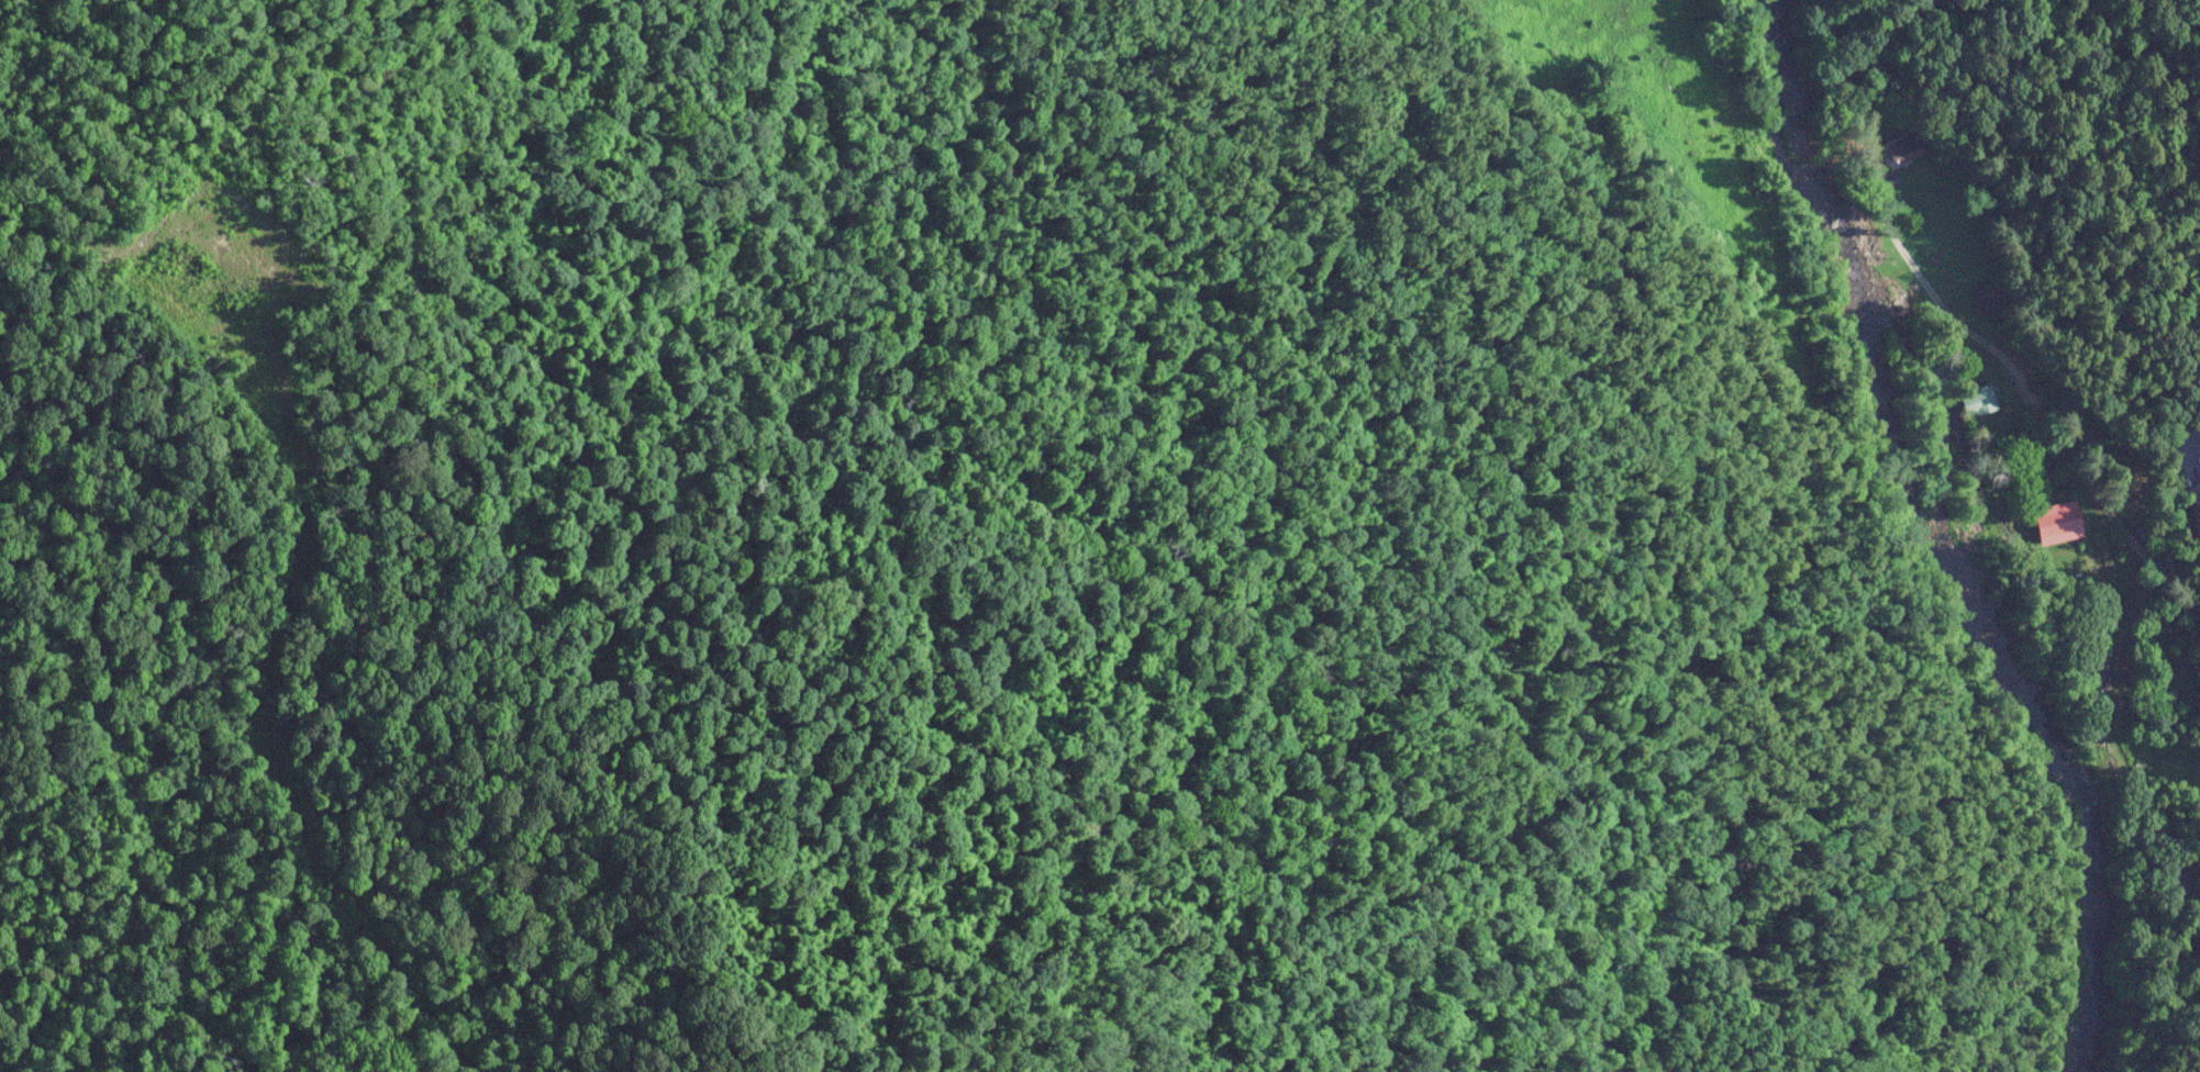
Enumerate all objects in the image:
road: (2159, 88)
building: (1902, 148)
building: (1985, 295)
building: (1981, 398)
building: (2195, 495)
building: (2057, 520)

